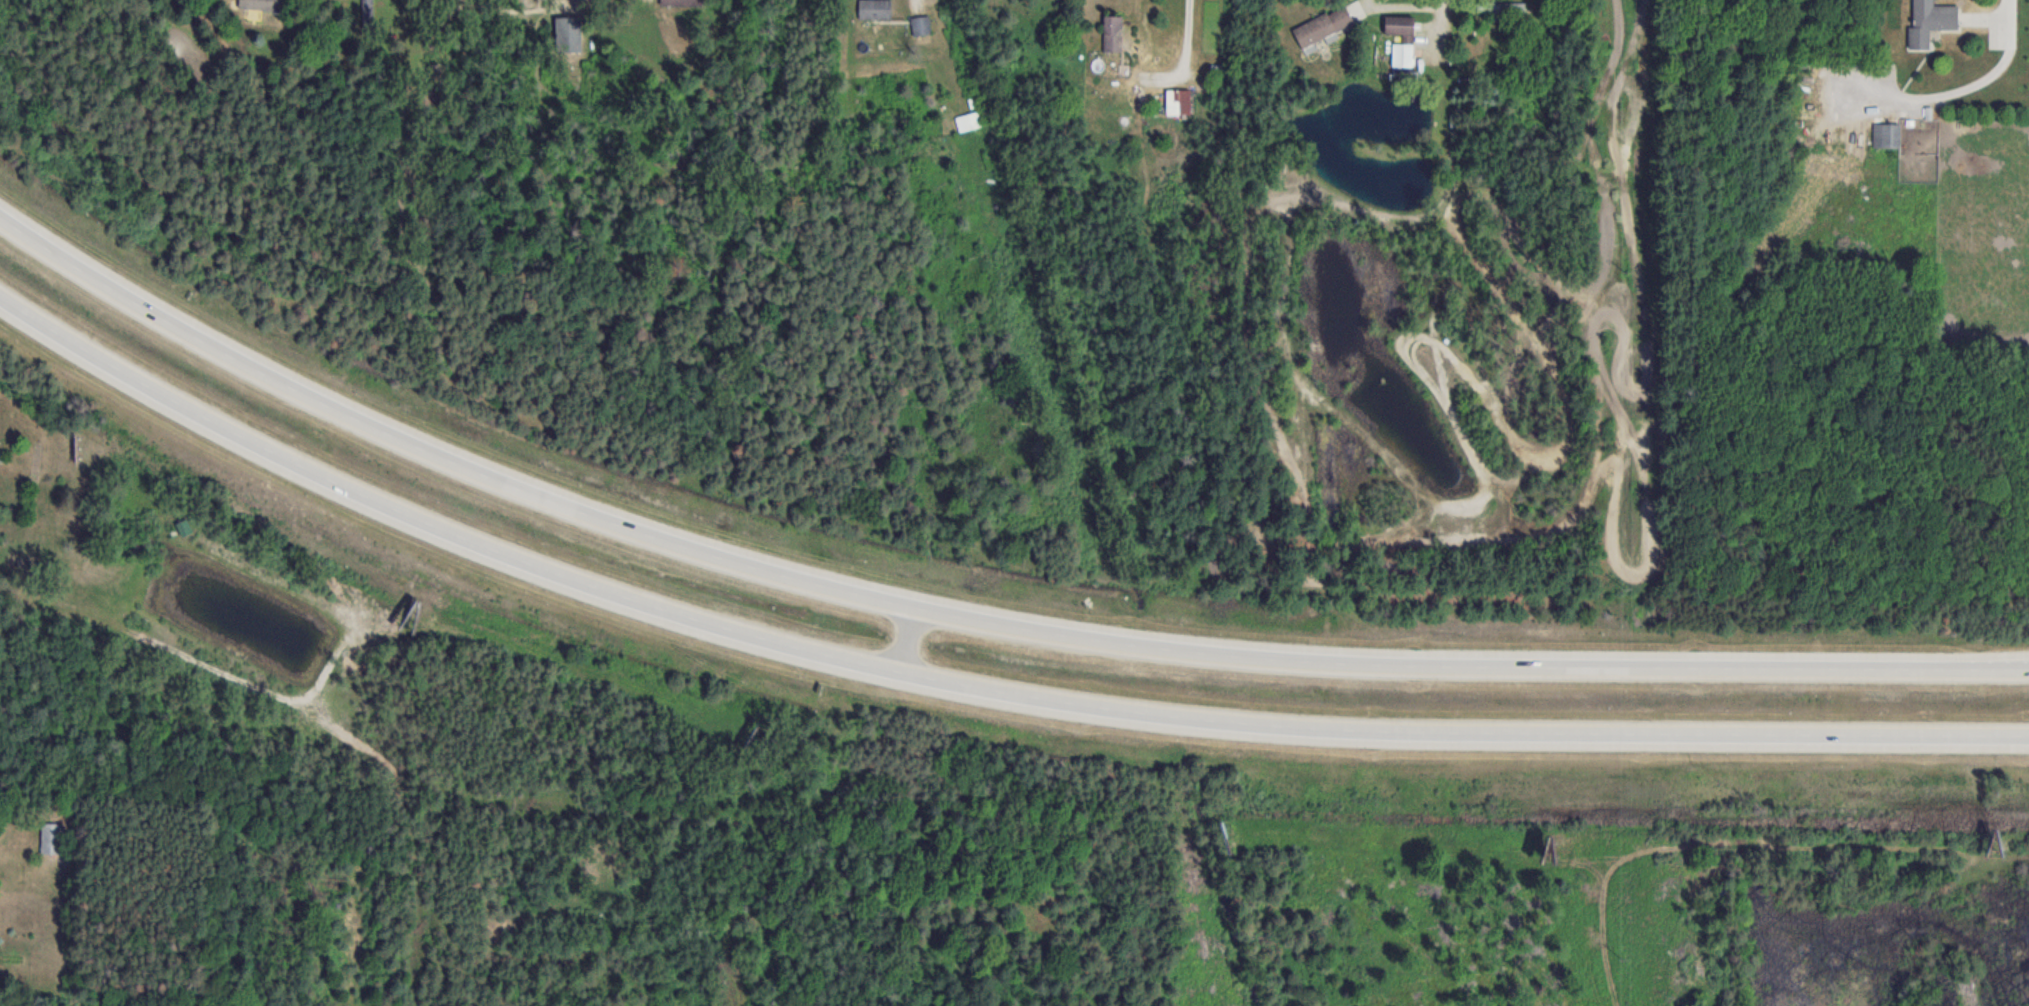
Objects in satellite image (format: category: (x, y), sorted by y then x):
building: (674, 2)
road: (913, 2)
building: (257, 4)
road: (1401, 6)
building: (1502, 8)
building: (874, 9)
building: (368, 13)
building: (1928, 21)
building: (920, 25)
building: (1320, 28)
building: (564, 34)
building: (1111, 35)
building: (1406, 39)
road: (1182, 55)
road: (1949, 93)
building: (1176, 102)
building: (968, 122)
building: (1886, 135)
road: (972, 619)
road: (975, 687)
building: (51, 839)

